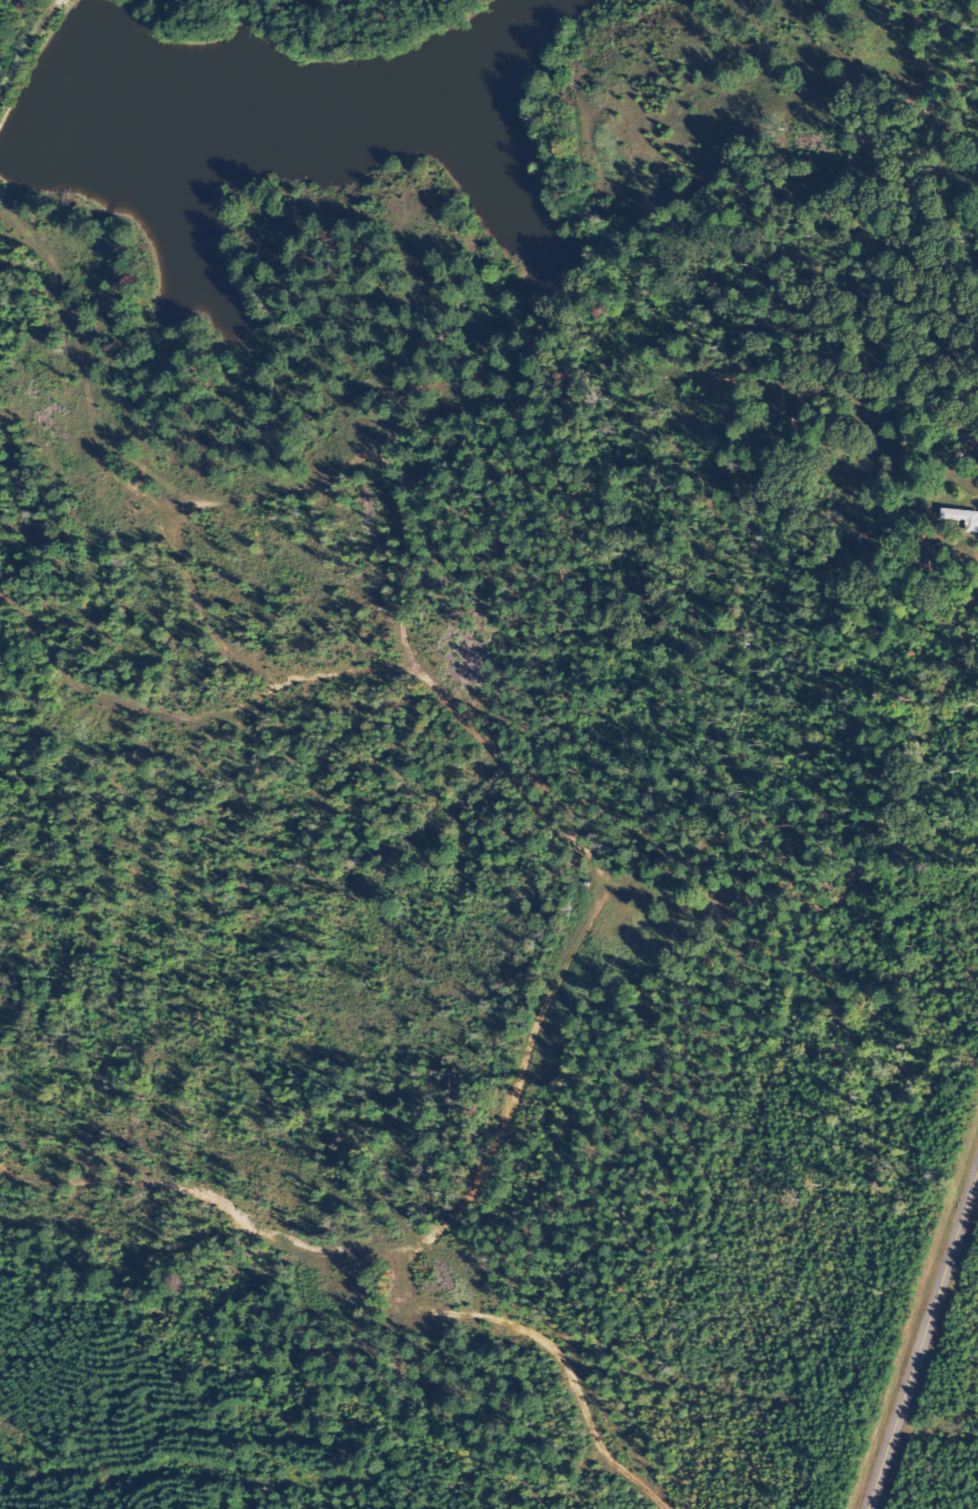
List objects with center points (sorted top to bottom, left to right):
building: (967, 519)
road: (924, 1341)

